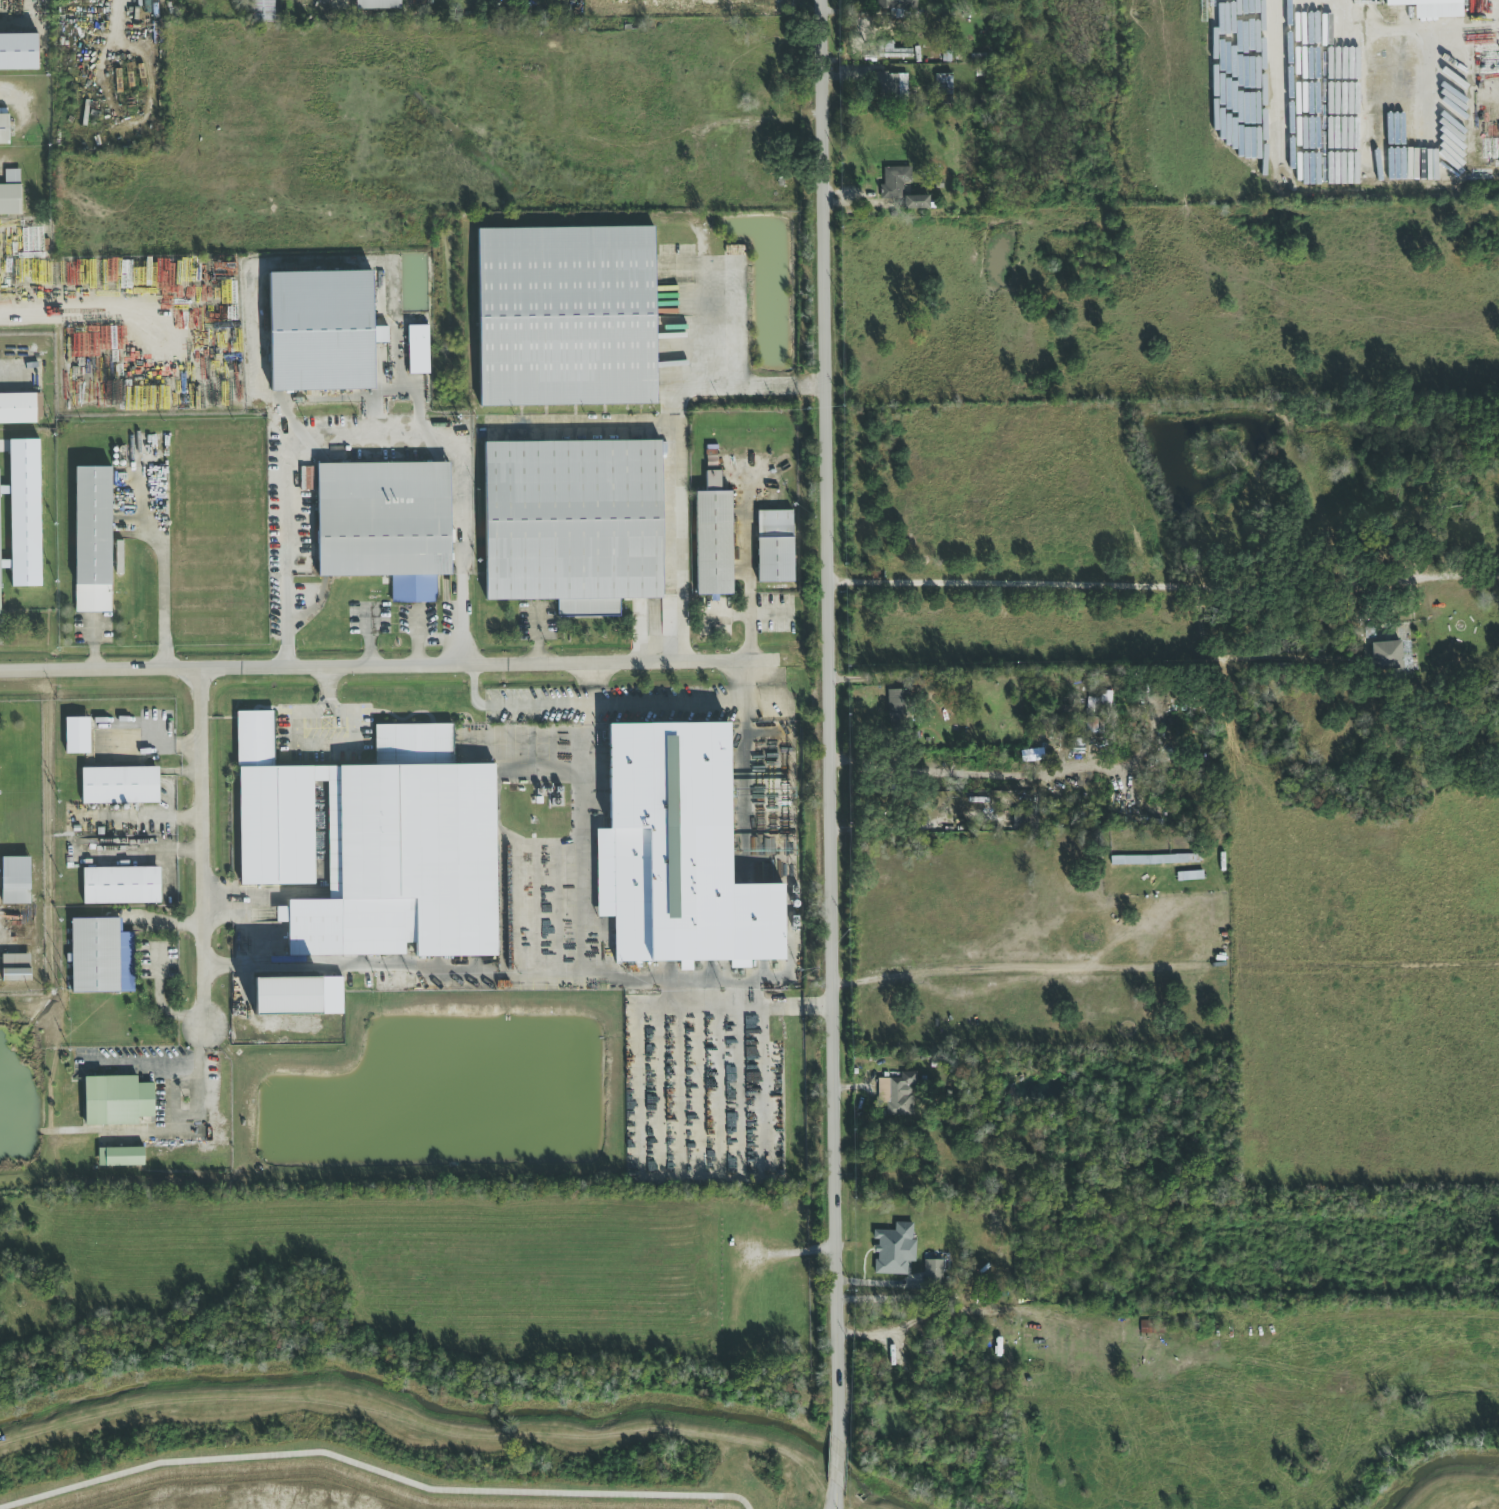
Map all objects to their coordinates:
building: (378, 5)
building: (895, 5)
building: (1429, 8)
building: (260, 11)
building: (889, 51)
building: (18, 52)
building: (978, 60)
road: (1228, 70)
building: (943, 83)
building: (891, 86)
building: (4, 130)
road: (1416, 163)
building: (901, 189)
building: (10, 193)
road: (63, 315)
building: (562, 316)
building: (321, 331)
building: (417, 349)
road: (14, 383)
road: (756, 387)
building: (39, 405)
building: (17, 409)
road: (587, 429)
road: (375, 448)
road: (679, 458)
building: (4, 488)
building: (25, 513)
building: (740, 521)
building: (571, 524)
building: (383, 525)
building: (713, 538)
building: (93, 540)
building: (774, 560)
road: (162, 569)
road: (1164, 585)
building: (0, 591)
road: (729, 617)
road: (749, 619)
road: (537, 637)
building: (1385, 656)
road: (392, 668)
road: (896, 677)
road: (326, 683)
road: (610, 704)
building: (898, 706)
road: (831, 717)
building: (1091, 724)
building: (77, 736)
road: (322, 744)
building: (120, 785)
building: (380, 844)
road: (201, 848)
building: (685, 851)
building: (16, 880)
building: (121, 884)
building: (101, 957)
building: (16, 967)
road: (583, 969)
building: (297, 996)
road: (158, 999)
road: (147, 1062)
building: (898, 1094)
building: (116, 1101)
road: (200, 1120)
building: (120, 1157)
building: (894, 1249)
building: (933, 1272)
river: (485, 1409)
road: (838, 1459)
road: (374, 1469)
river: (1435, 1471)
park: (337, 1485)
park: (1453, 1488)
park: (890, 1494)
road: (835, 1497)
park: (256, 1500)

